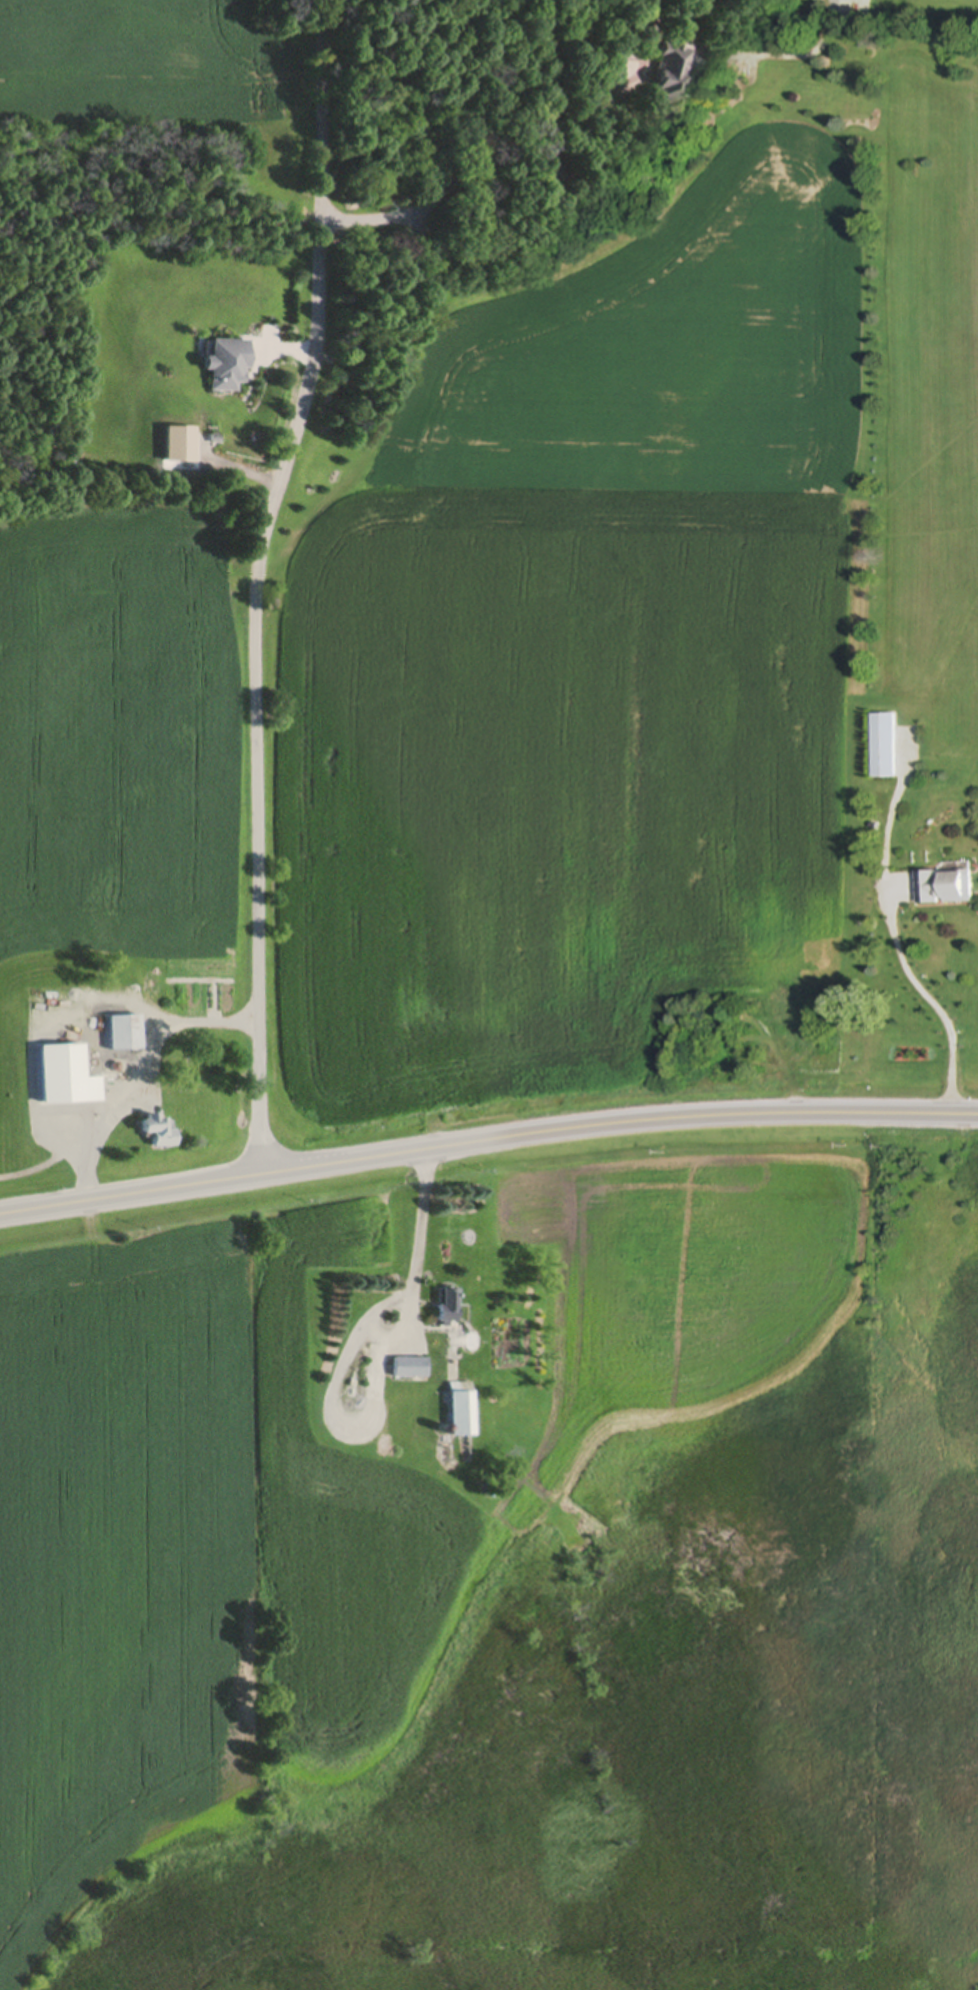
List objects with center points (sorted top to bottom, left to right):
building: (672, 80)
road: (479, 162)
building: (554, 175)
building: (228, 367)
road: (258, 582)
building: (884, 749)
building: (946, 891)
road: (925, 1000)
building: (123, 1036)
road: (139, 1072)
building: (68, 1132)
building: (157, 1133)
road: (487, 1144)
road: (419, 1224)
building: (446, 1307)
building: (409, 1370)
building: (460, 1412)

